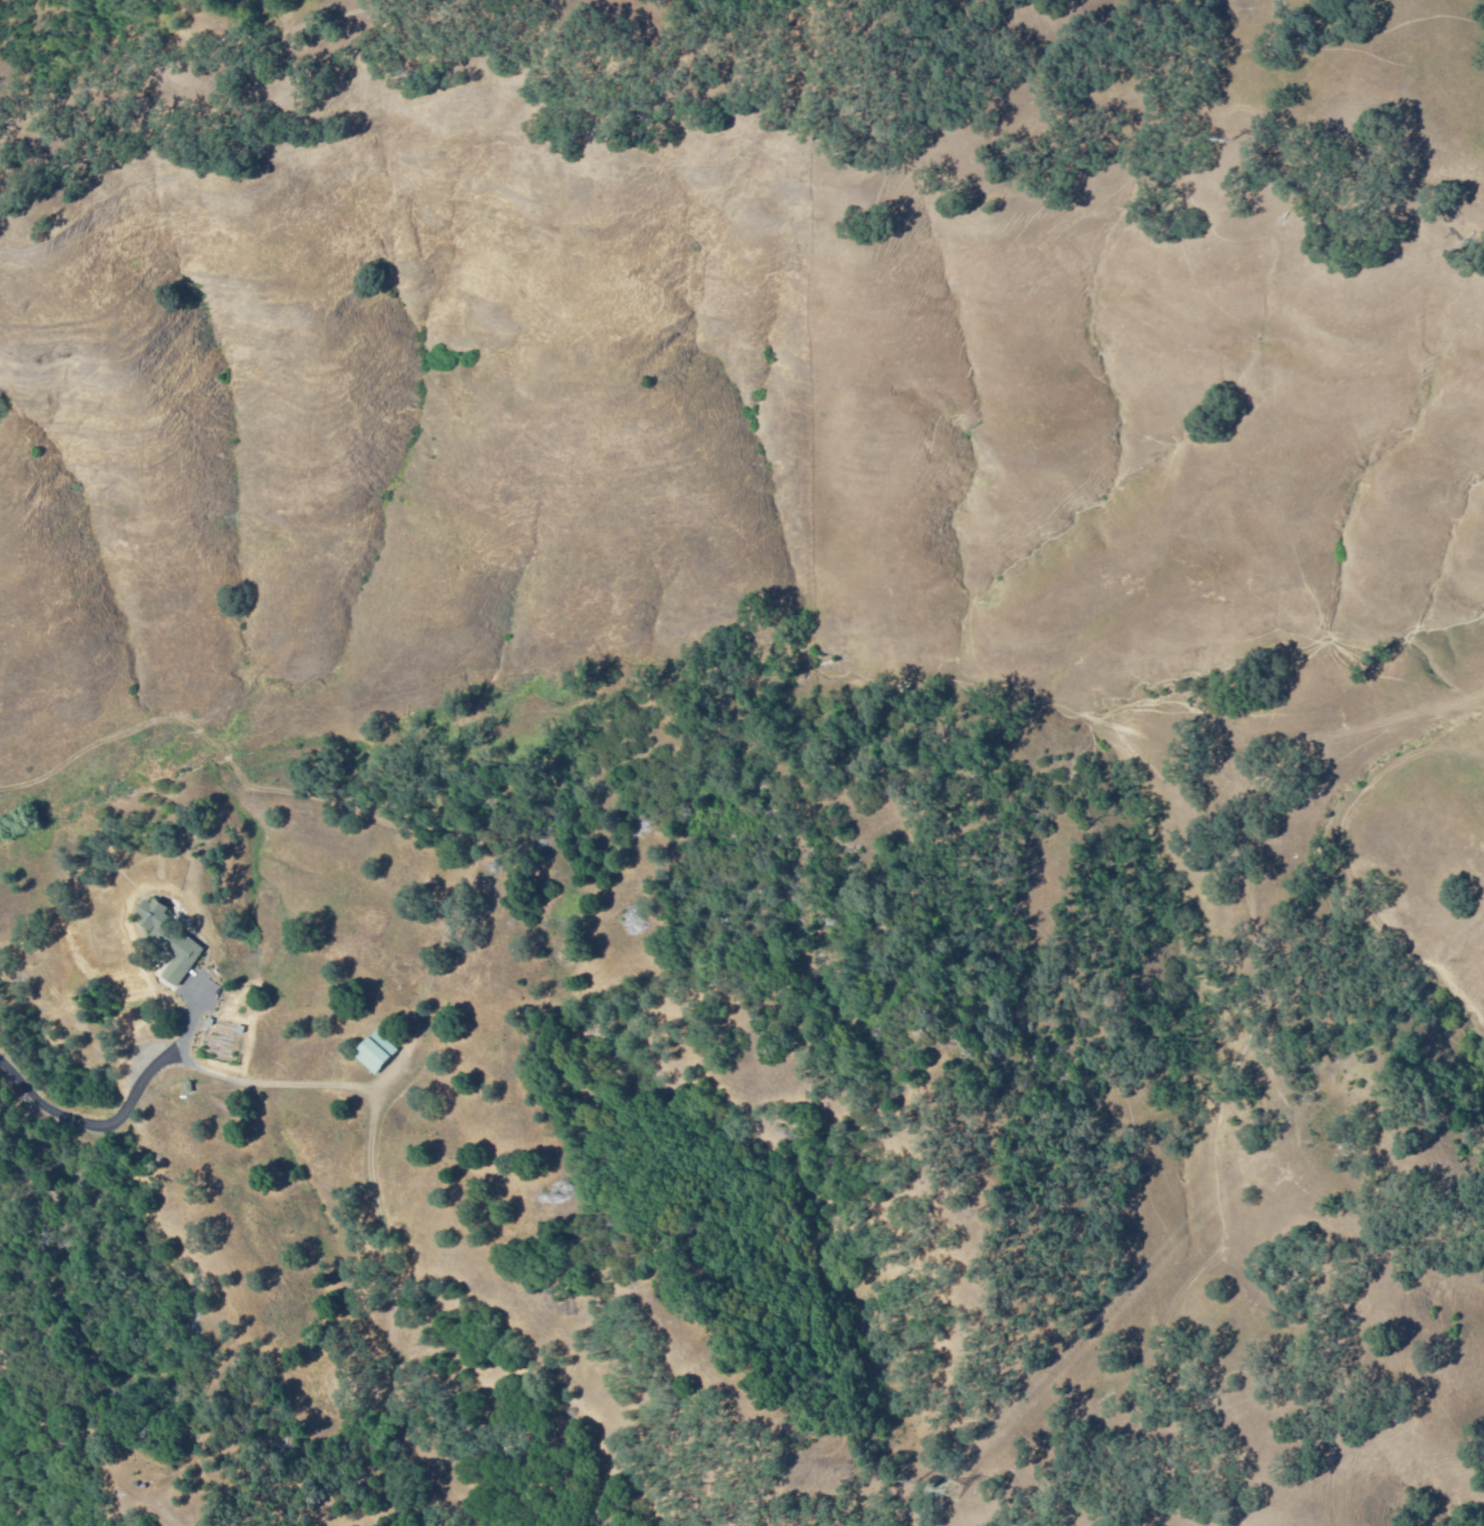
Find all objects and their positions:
road: (353, 812)
building: (178, 943)
building: (384, 1056)
road: (123, 1109)
road: (368, 1163)

